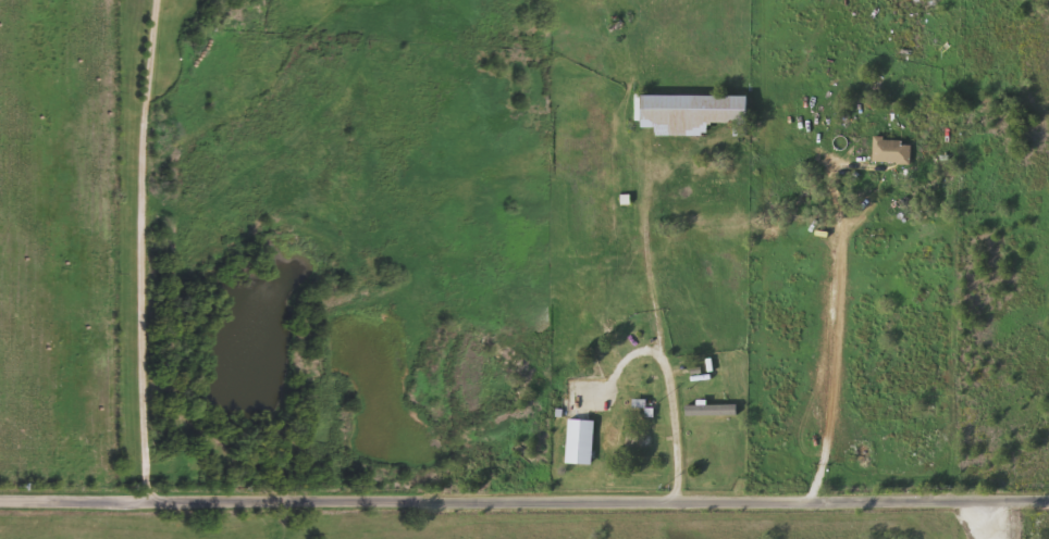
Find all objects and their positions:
building: (695, 111)
building: (892, 149)
road: (147, 251)
road: (646, 258)
road: (830, 352)
road: (668, 377)
building: (580, 439)
road: (813, 482)
road: (523, 501)

